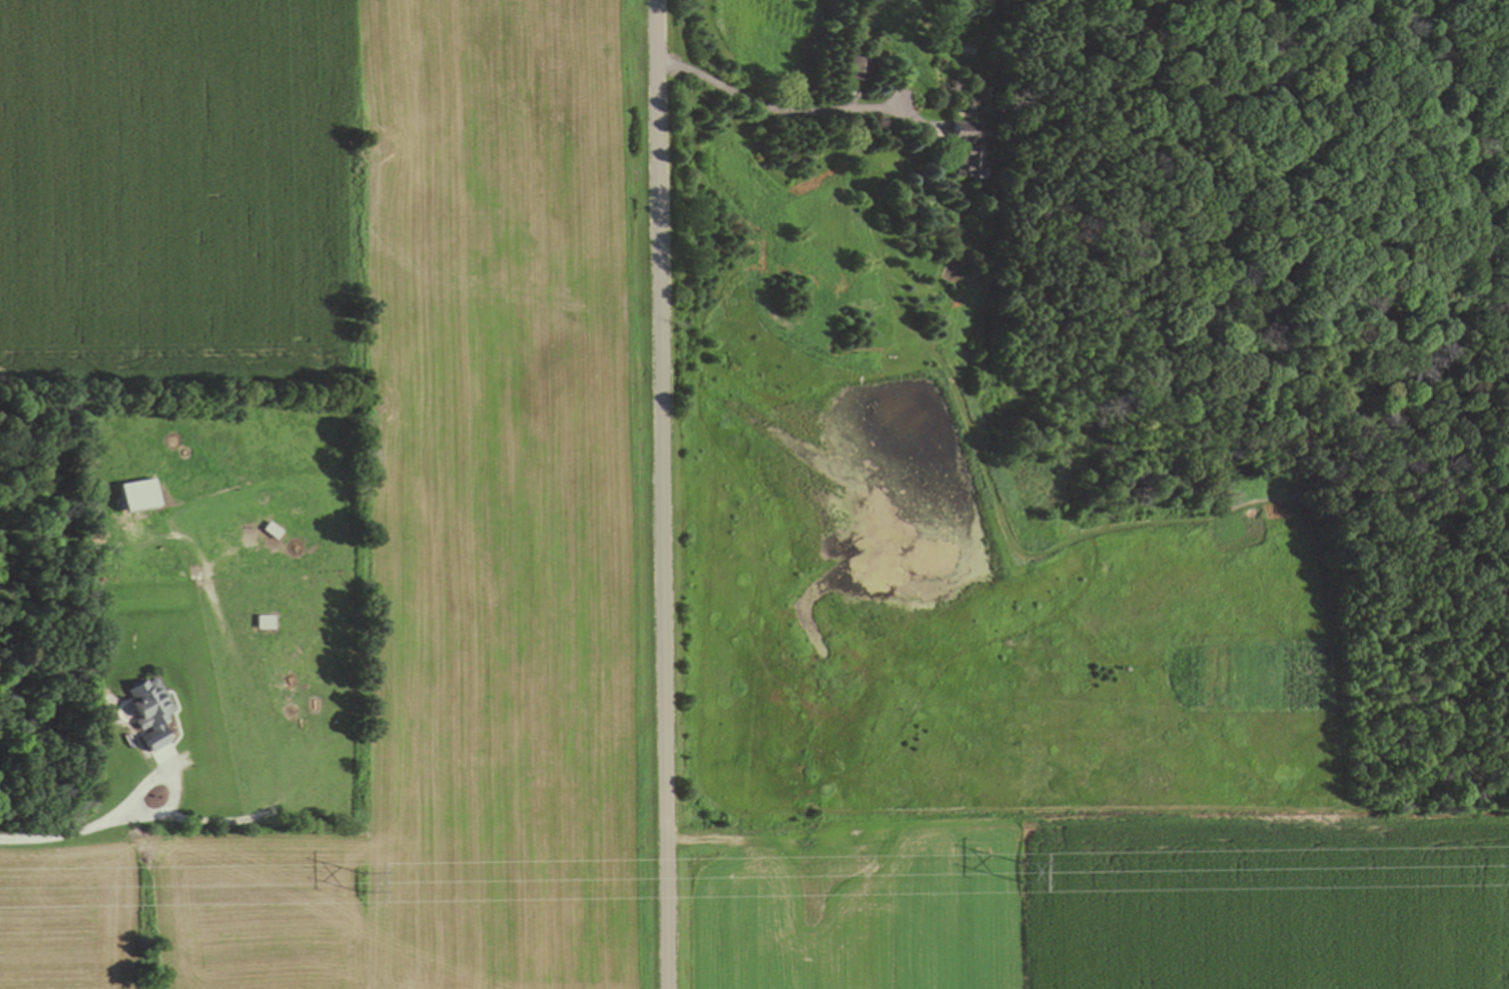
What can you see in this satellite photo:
building: (859, 69)
road: (791, 110)
building: (967, 148)
road: (662, 494)
building: (137, 496)
building: (148, 713)
power tower: (1027, 872)
power tower: (363, 883)

